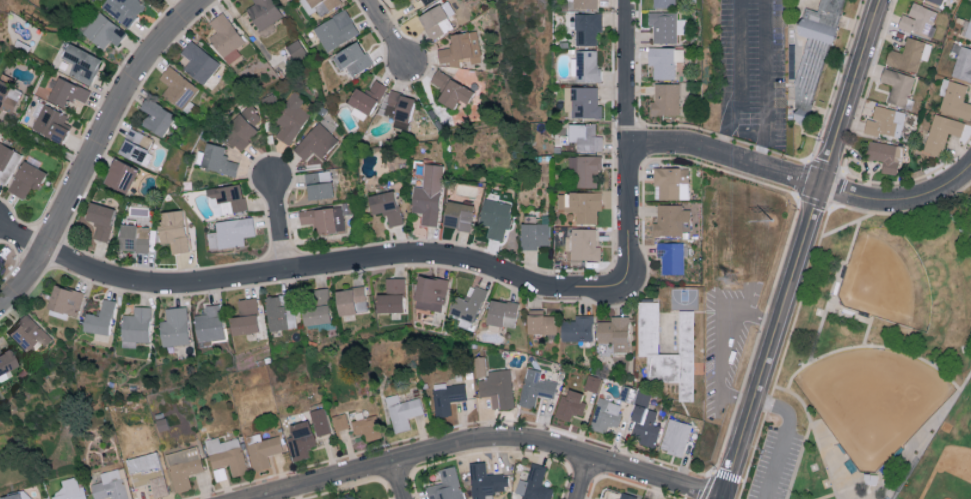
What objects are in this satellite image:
building: (936, 1)
building: (663, 3)
building: (583, 4)
building: (320, 5)
building: (122, 9)
building: (263, 12)
building: (918, 19)
building: (434, 21)
building: (665, 25)
building: (587, 27)
building: (965, 28)
building: (336, 29)
building: (103, 30)
road: (388, 33)
building: (225, 37)
building: (460, 47)
building: (295, 49)
building: (816, 53)
building: (909, 54)
building: (351, 57)
building: (664, 60)
building: (961, 61)
building: (80, 62)
building: (199, 63)
building: (586, 64)
parking lot: (754, 71)
road: (627, 74)
road: (735, 78)
road: (765, 84)
building: (897, 85)
building: (177, 87)
building: (449, 89)
building: (66, 91)
building: (8, 96)
building: (365, 96)
building: (665, 98)
building: (956, 100)
building: (582, 101)
building: (156, 116)
building: (291, 118)
building: (885, 121)
building: (50, 123)
building: (243, 127)
building: (941, 132)
building: (587, 137)
building: (315, 141)
road: (46, 143)
building: (135, 146)
road: (97, 150)
road: (725, 155)
building: (884, 155)
building: (218, 159)
building: (7, 161)
building: (584, 168)
building: (119, 175)
building: (25, 179)
building: (671, 182)
building: (318, 184)
building: (428, 194)
road: (898, 201)
building: (581, 204)
building: (385, 206)
building: (457, 215)
building: (495, 217)
road: (951, 217)
building: (100, 219)
building: (671, 219)
power tower: (774, 221)
road: (280, 225)
building: (173, 229)
building: (230, 232)
road: (834, 232)
building: (534, 235)
building: (134, 237)
building: (581, 244)
road: (799, 248)
building: (670, 257)
road: (375, 261)
road: (838, 277)
power tower: (731, 279)
park: (887, 280)
building: (430, 293)
building: (390, 296)
park: (683, 297)
building: (64, 300)
building: (350, 300)
building: (467, 304)
building: (316, 307)
building: (279, 313)
building: (501, 313)
building: (244, 317)
road: (862, 317)
building: (99, 318)
building: (539, 322)
building: (208, 323)
building: (135, 324)
building: (174, 326)
building: (576, 328)
building: (26, 332)
building: (614, 332)
road: (724, 343)
parking lot: (725, 344)
building: (667, 346)
road: (857, 347)
building: (5, 361)
park: (877, 365)
building: (479, 366)
road: (966, 382)
building: (498, 387)
building: (535, 387)
building: (447, 396)
park: (874, 401)
building: (569, 404)
road: (804, 404)
building: (403, 411)
building: (605, 414)
building: (320, 421)
building: (340, 421)
building: (366, 426)
building: (675, 436)
road: (786, 437)
building: (299, 439)
road: (491, 439)
road: (902, 449)
building: (263, 451)
building: (226, 454)
park: (945, 459)
building: (143, 463)
parking lot: (777, 465)
building: (183, 466)
road: (585, 479)
road: (401, 480)
building: (484, 481)
building: (534, 484)
building: (111, 485)
building: (158, 485)
building: (446, 485)
building: (69, 490)
building: (16, 495)
building: (348, 496)
building: (626, 496)
road: (830, 497)
building: (332, 498)
building: (601, 498)
building: (643, 498)

